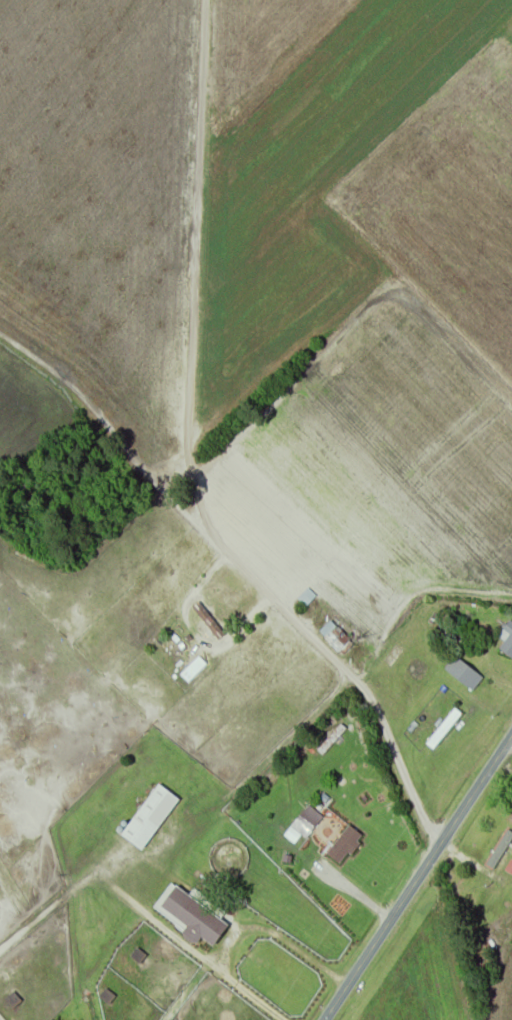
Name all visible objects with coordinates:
building: (307, 597)
building: (208, 621)
building: (509, 628)
building: (335, 637)
road: (276, 644)
building: (508, 649)
building: (465, 673)
building: (444, 730)
road: (511, 747)
building: (151, 818)
building: (345, 846)
building: (499, 852)
road: (471, 861)
road: (415, 880)
building: (195, 918)
building: (508, 922)

